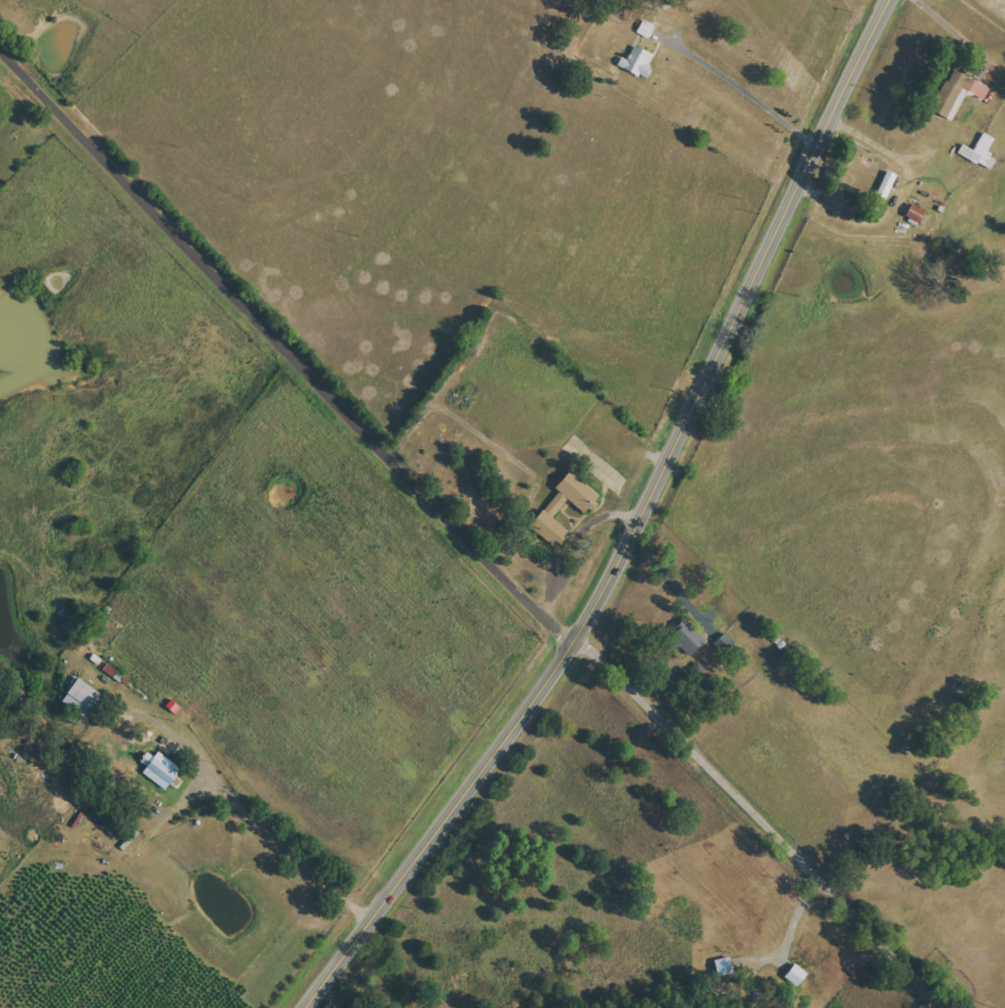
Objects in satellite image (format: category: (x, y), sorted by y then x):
building: (646, 29)
building: (637, 63)
road: (744, 90)
building: (957, 94)
building: (980, 152)
building: (883, 192)
building: (916, 214)
road: (284, 347)
park: (467, 465)
building: (554, 507)
road: (636, 525)
building: (688, 637)
building: (82, 698)
building: (160, 769)
road: (249, 813)
road: (761, 820)
road: (782, 942)

